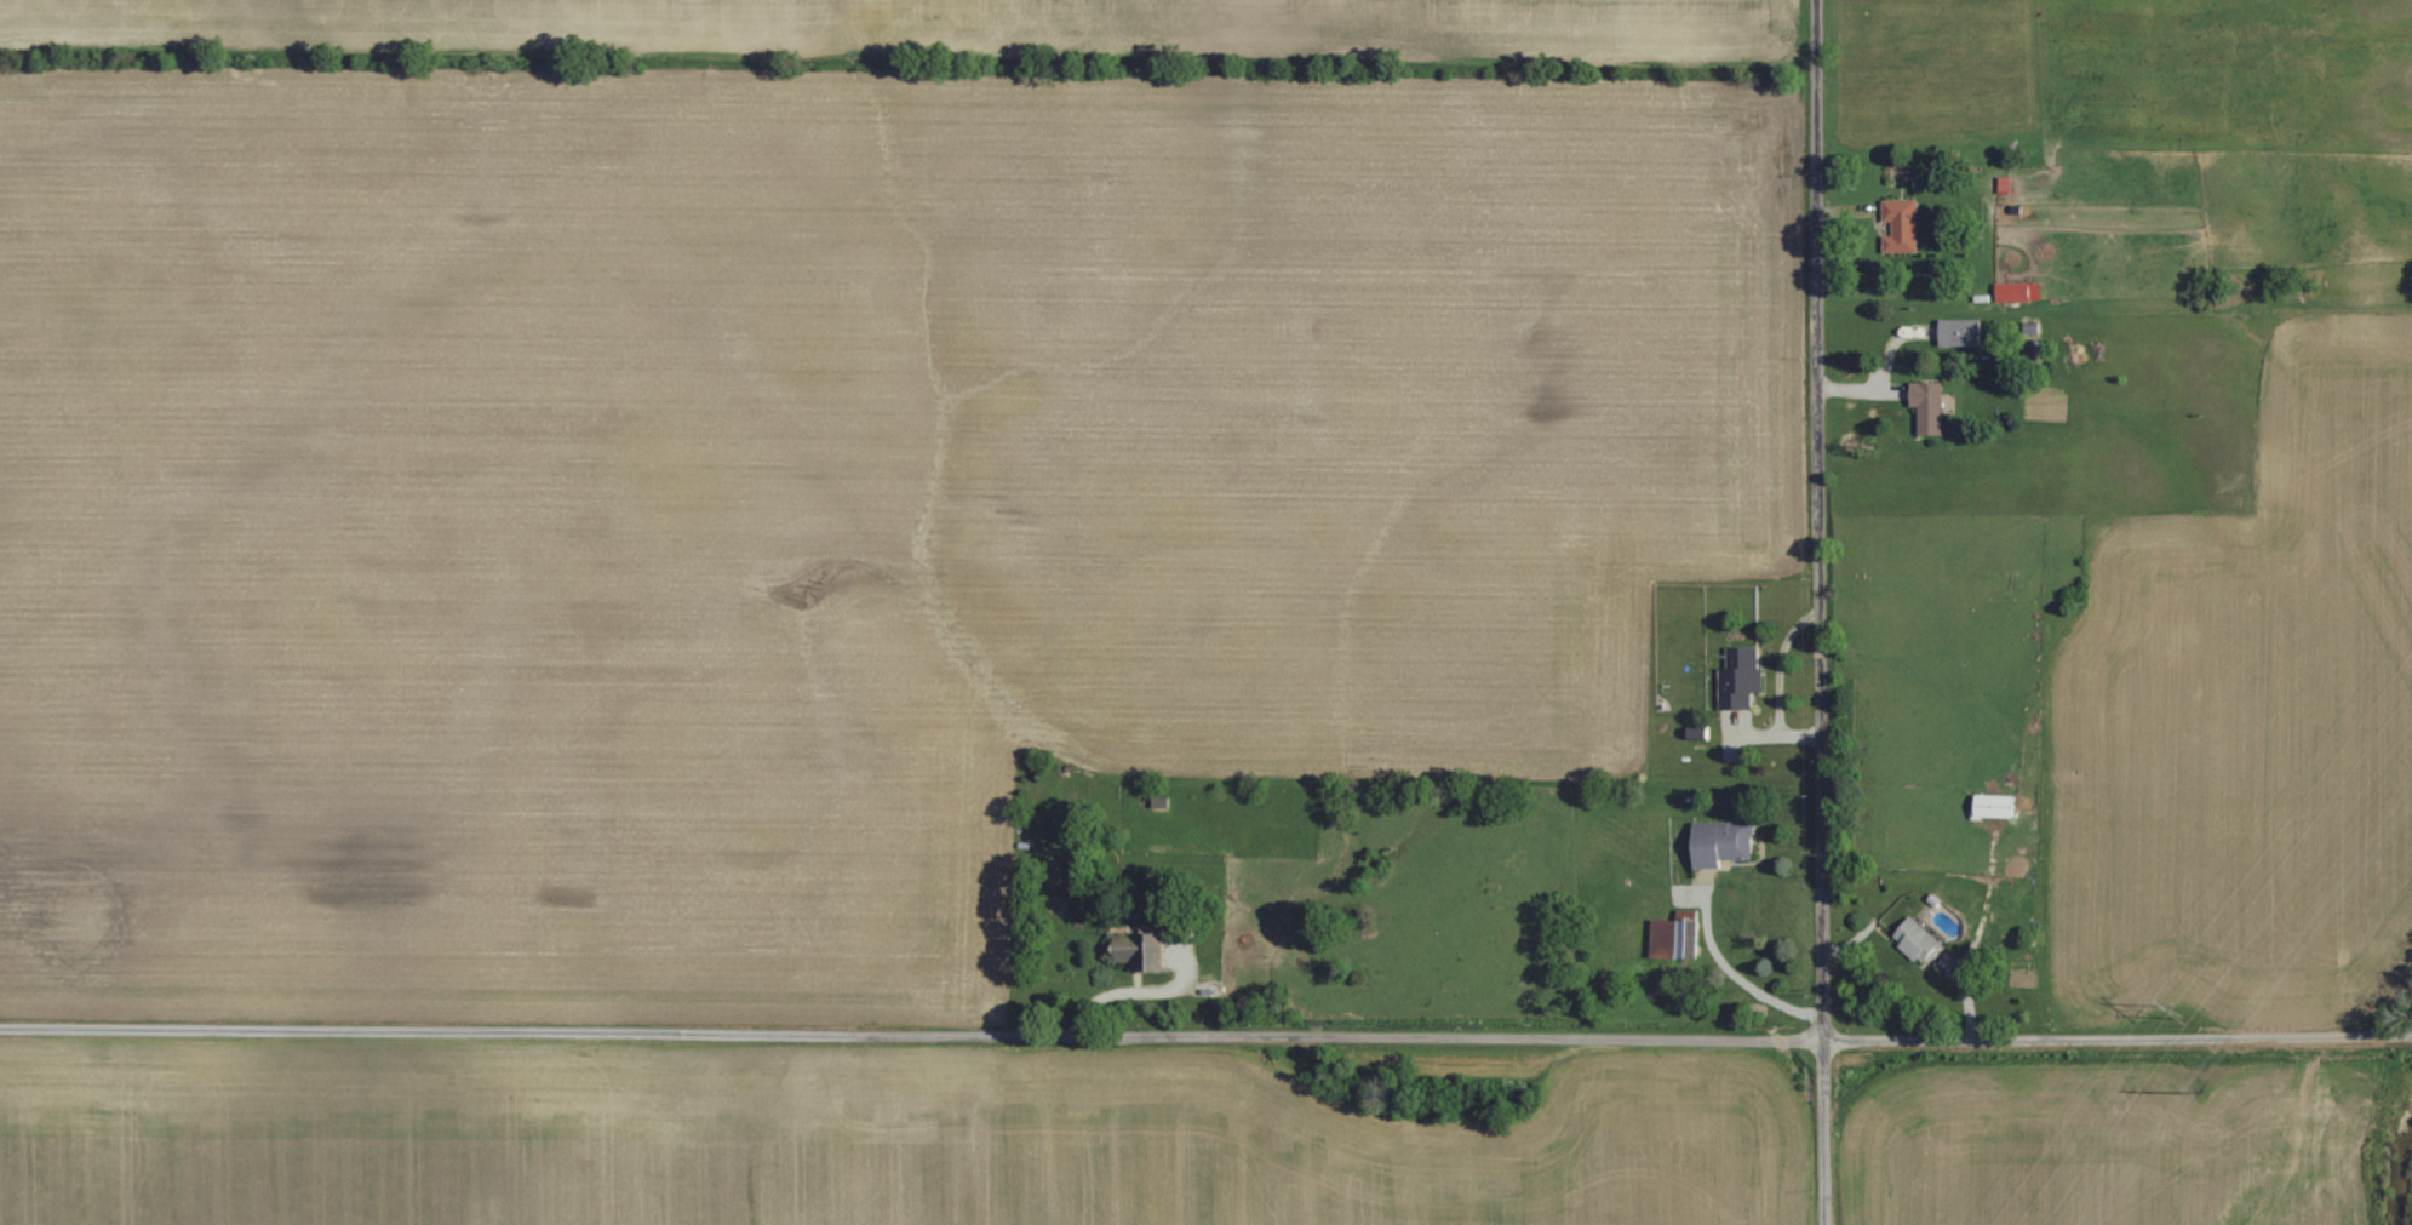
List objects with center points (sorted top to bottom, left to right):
building: (2007, 183)
building: (1904, 224)
building: (2016, 292)
building: (1953, 331)
building: (1931, 406)
road: (1820, 612)
building: (1743, 686)
building: (1999, 806)
building: (1725, 842)
building: (1675, 938)
building: (1921, 941)
road: (1731, 973)
power tower: (2184, 1007)
road: (1205, 1035)

